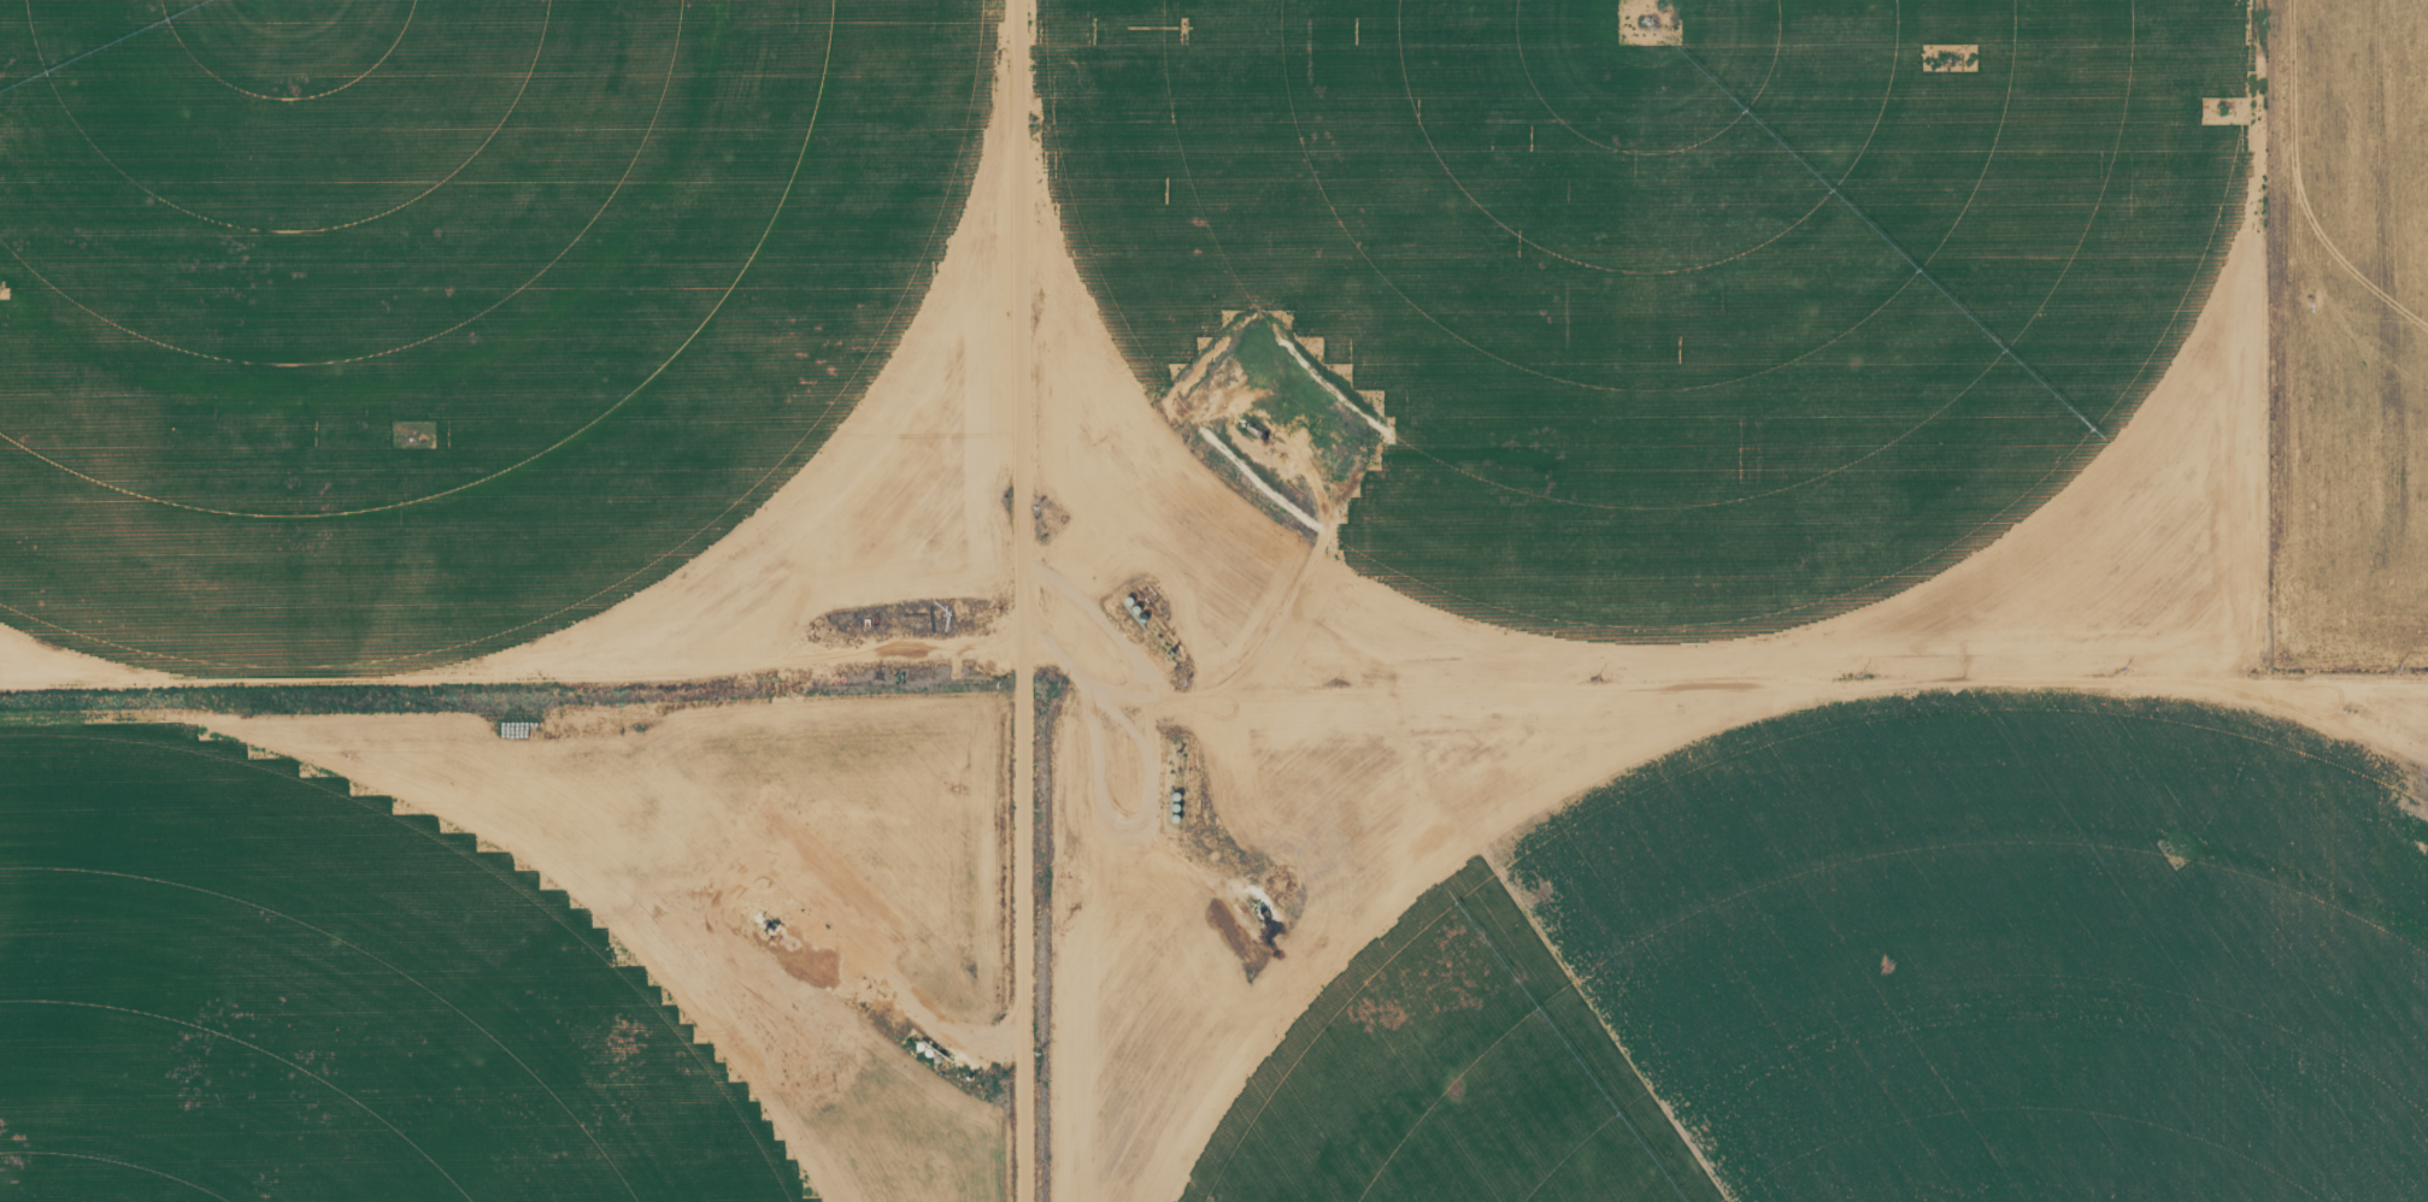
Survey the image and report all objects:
road: (1028, 601)
road: (2244, 683)

